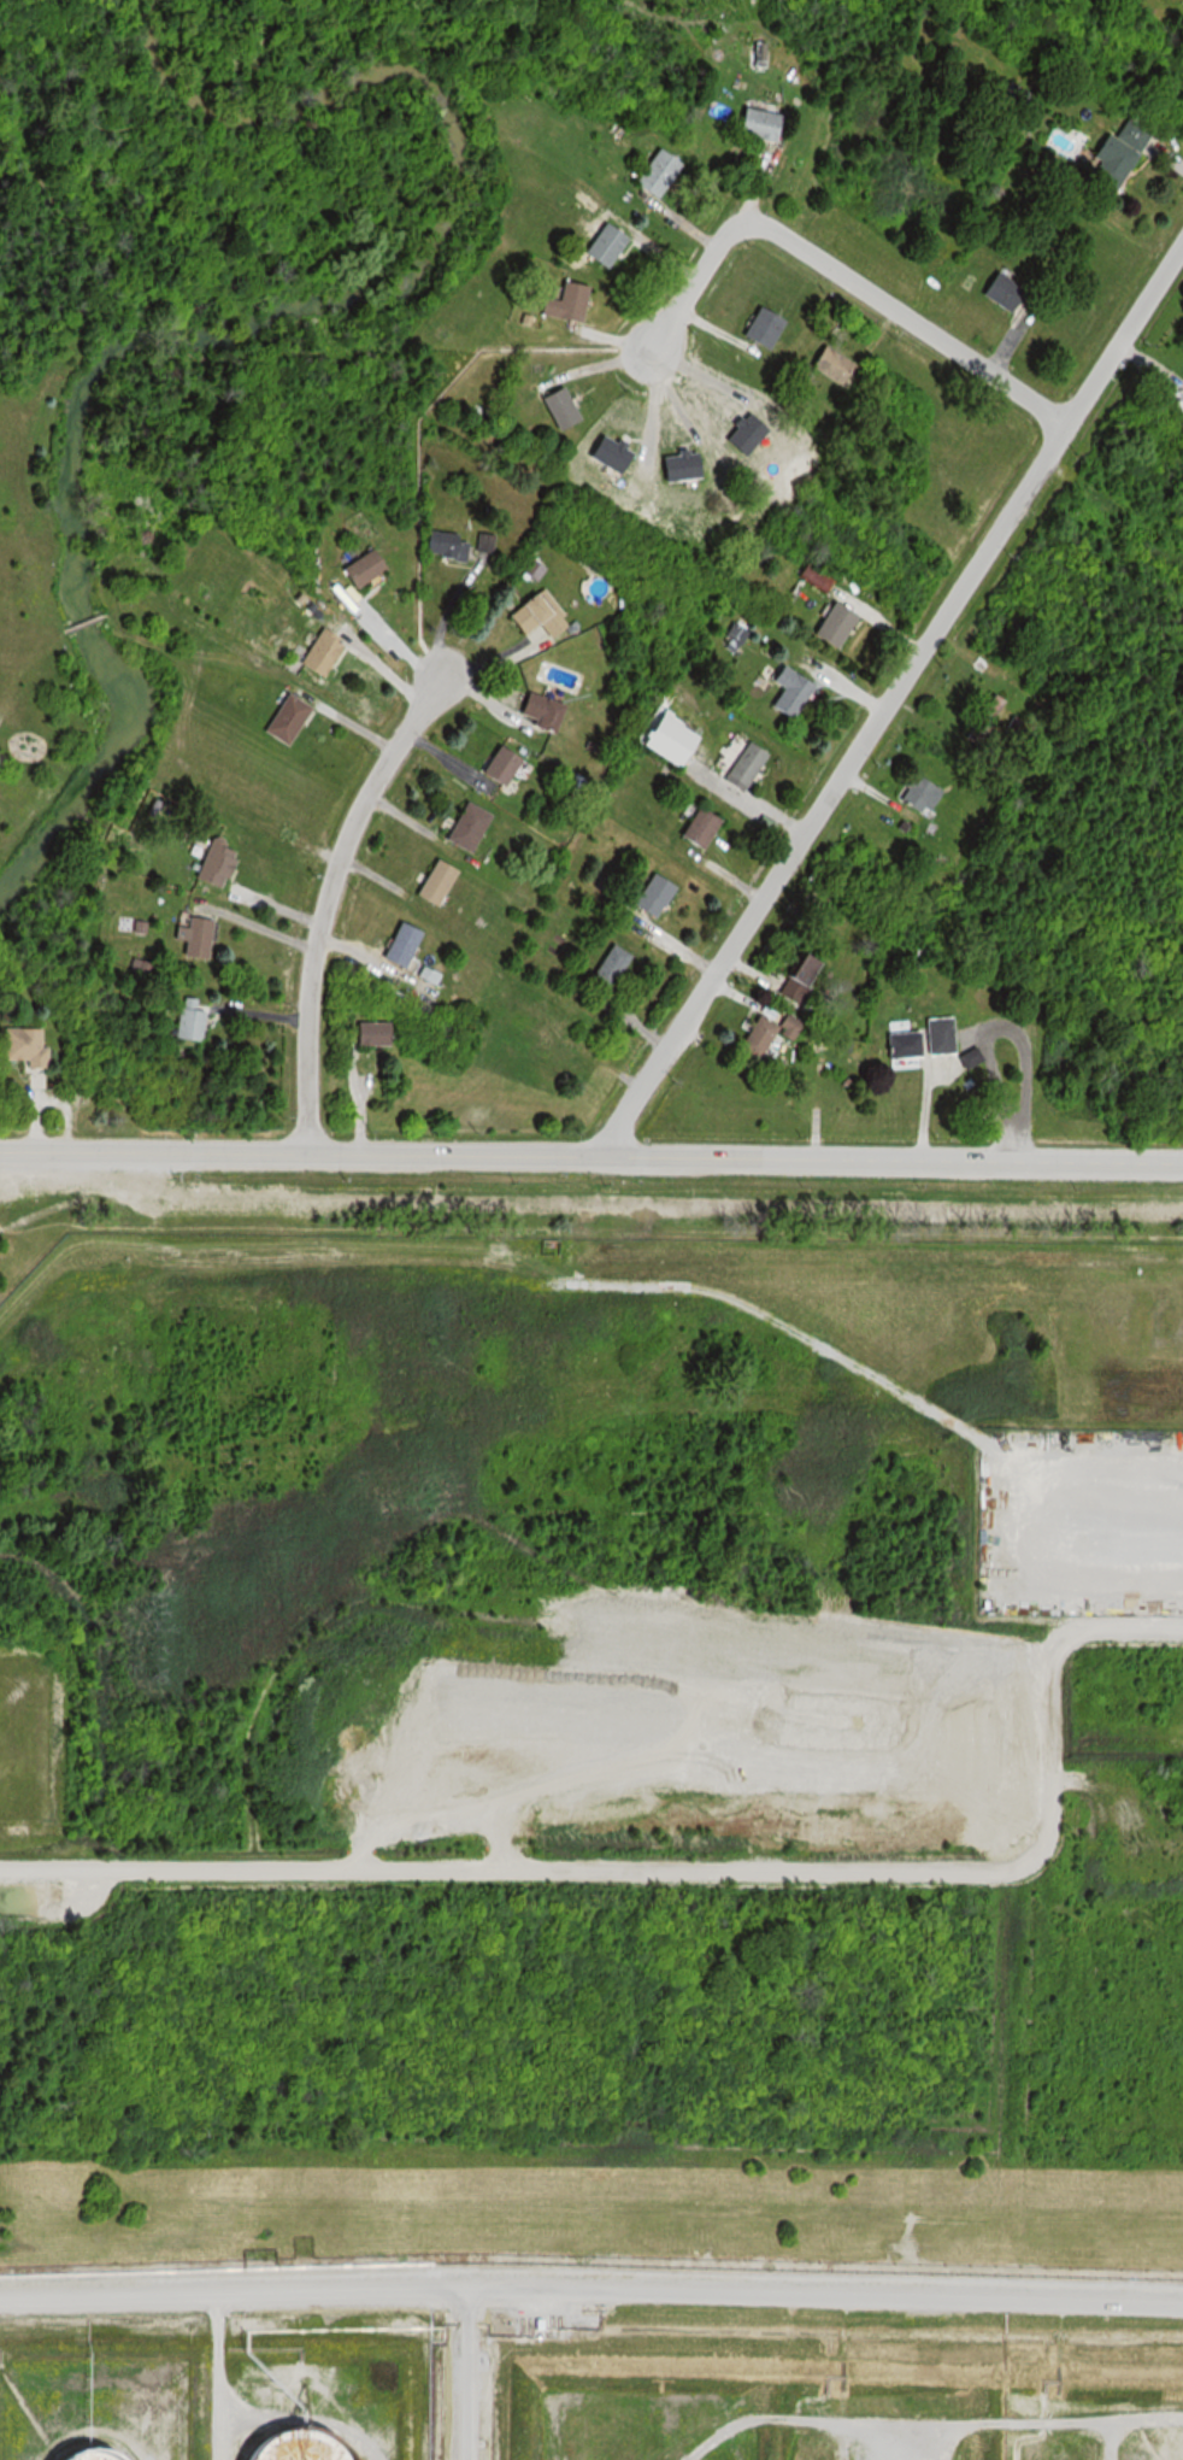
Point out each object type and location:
park: (152, 630)
storage tank: (312, 2441)
storage tank: (106, 2450)

